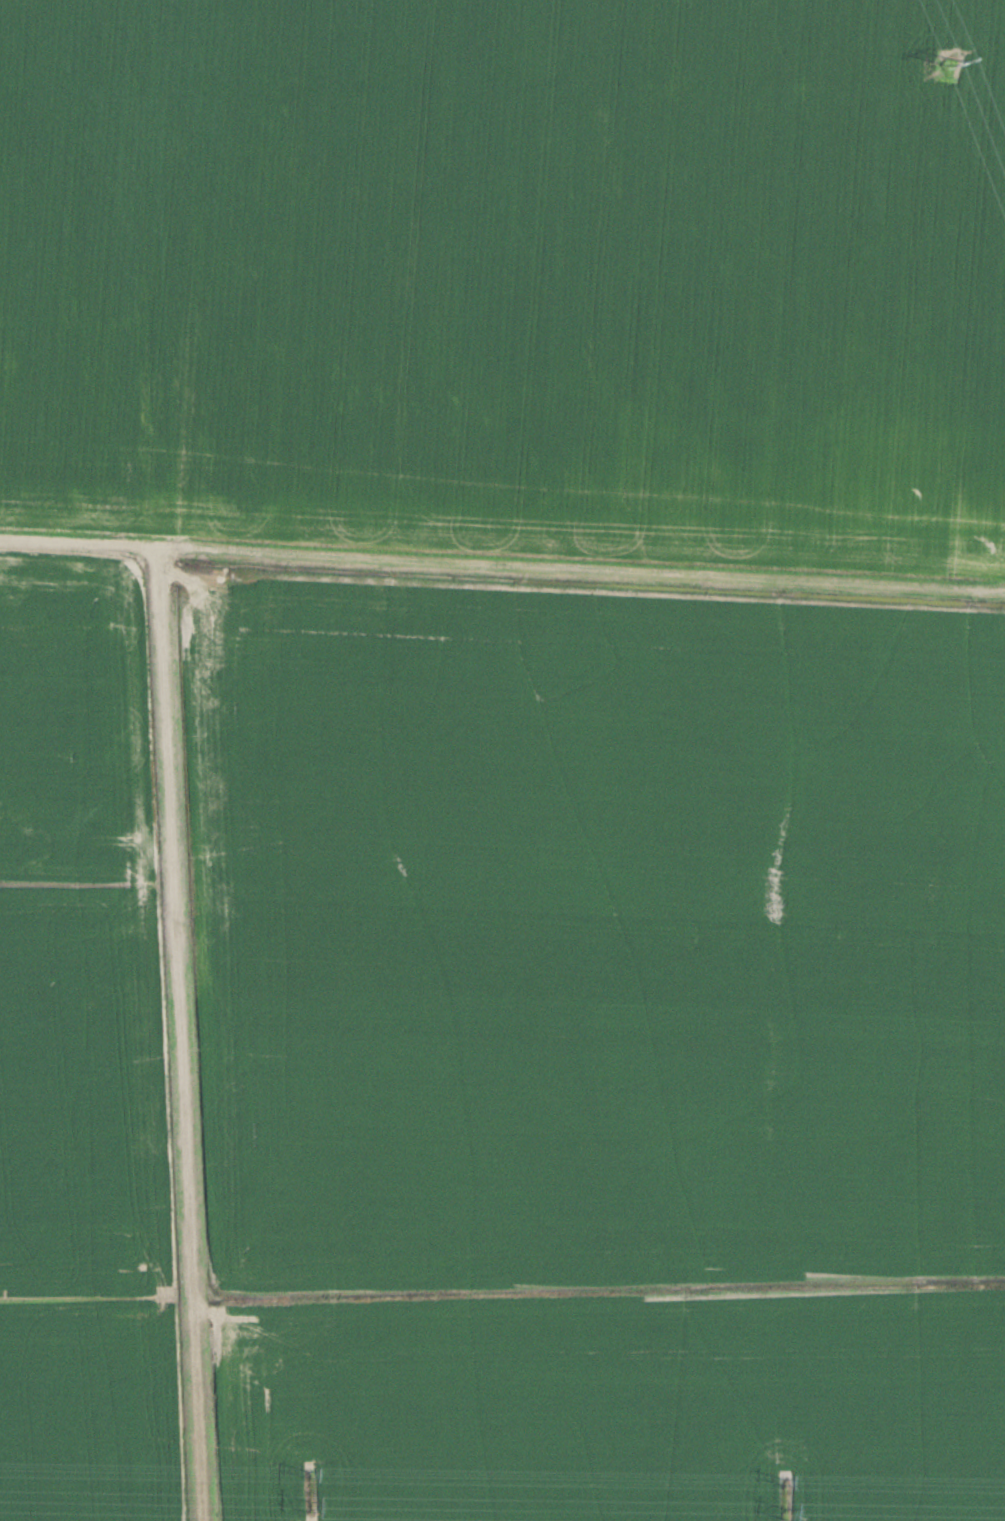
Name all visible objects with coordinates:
power tower: (948, 59)

